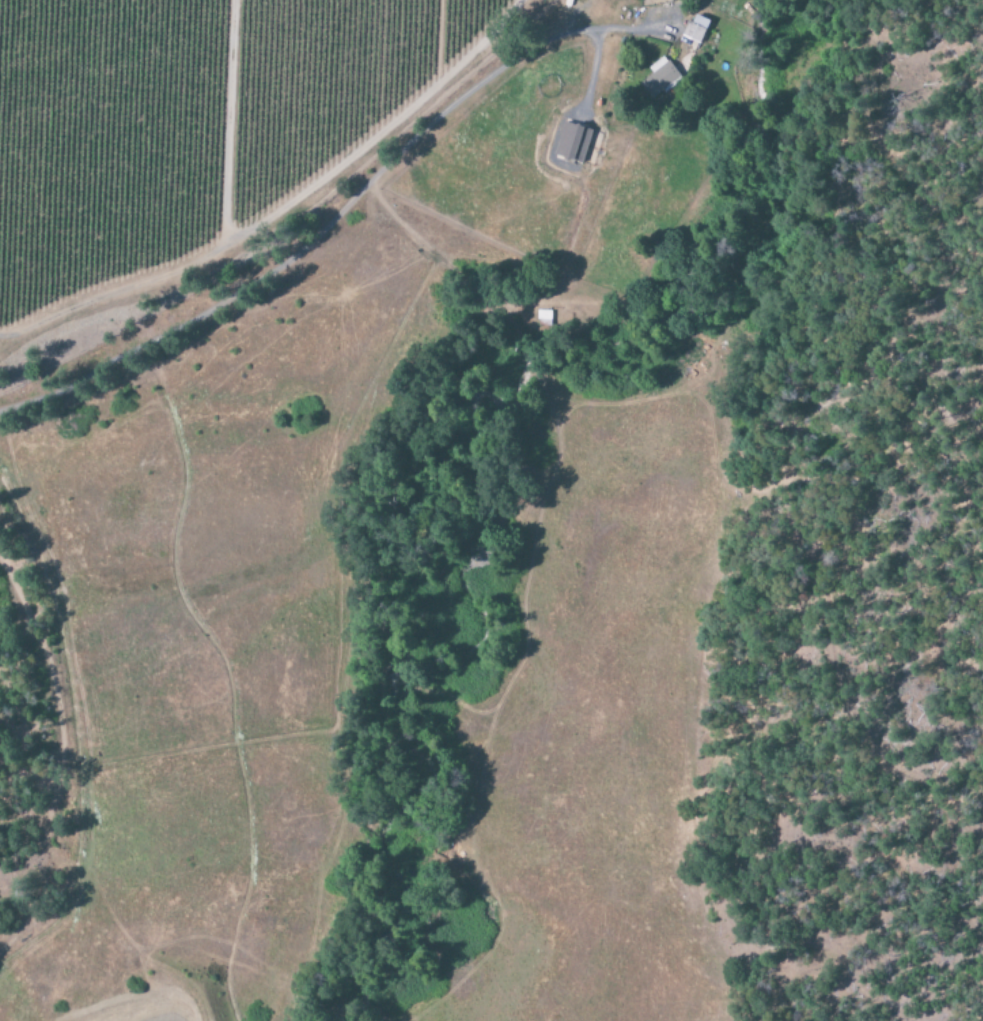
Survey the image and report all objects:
building: (696, 29)
building: (660, 78)
building: (572, 144)
road: (316, 214)
building: (544, 319)

